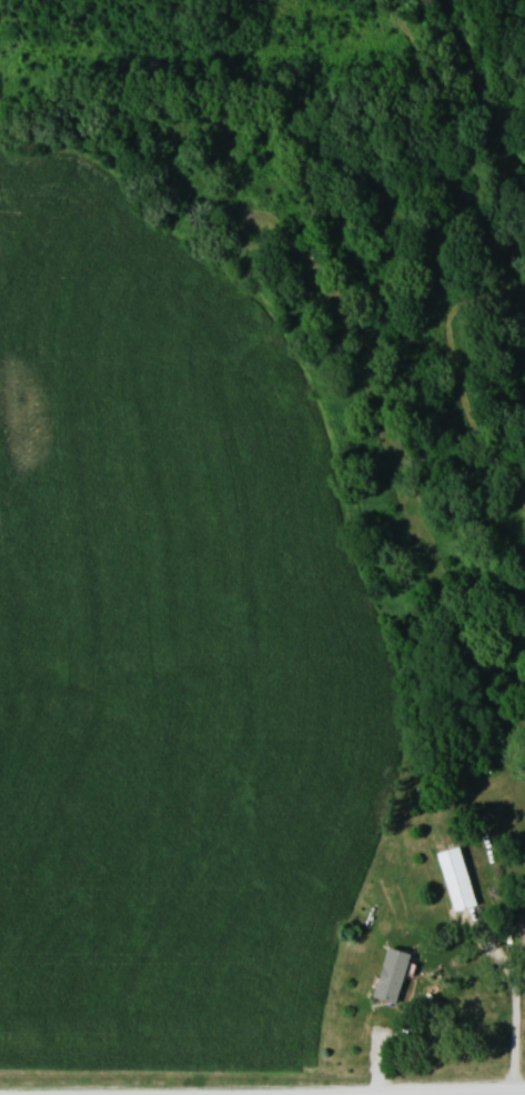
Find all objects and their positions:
building: (453, 877)
building: (387, 974)
road: (517, 1002)
road: (504, 1094)

